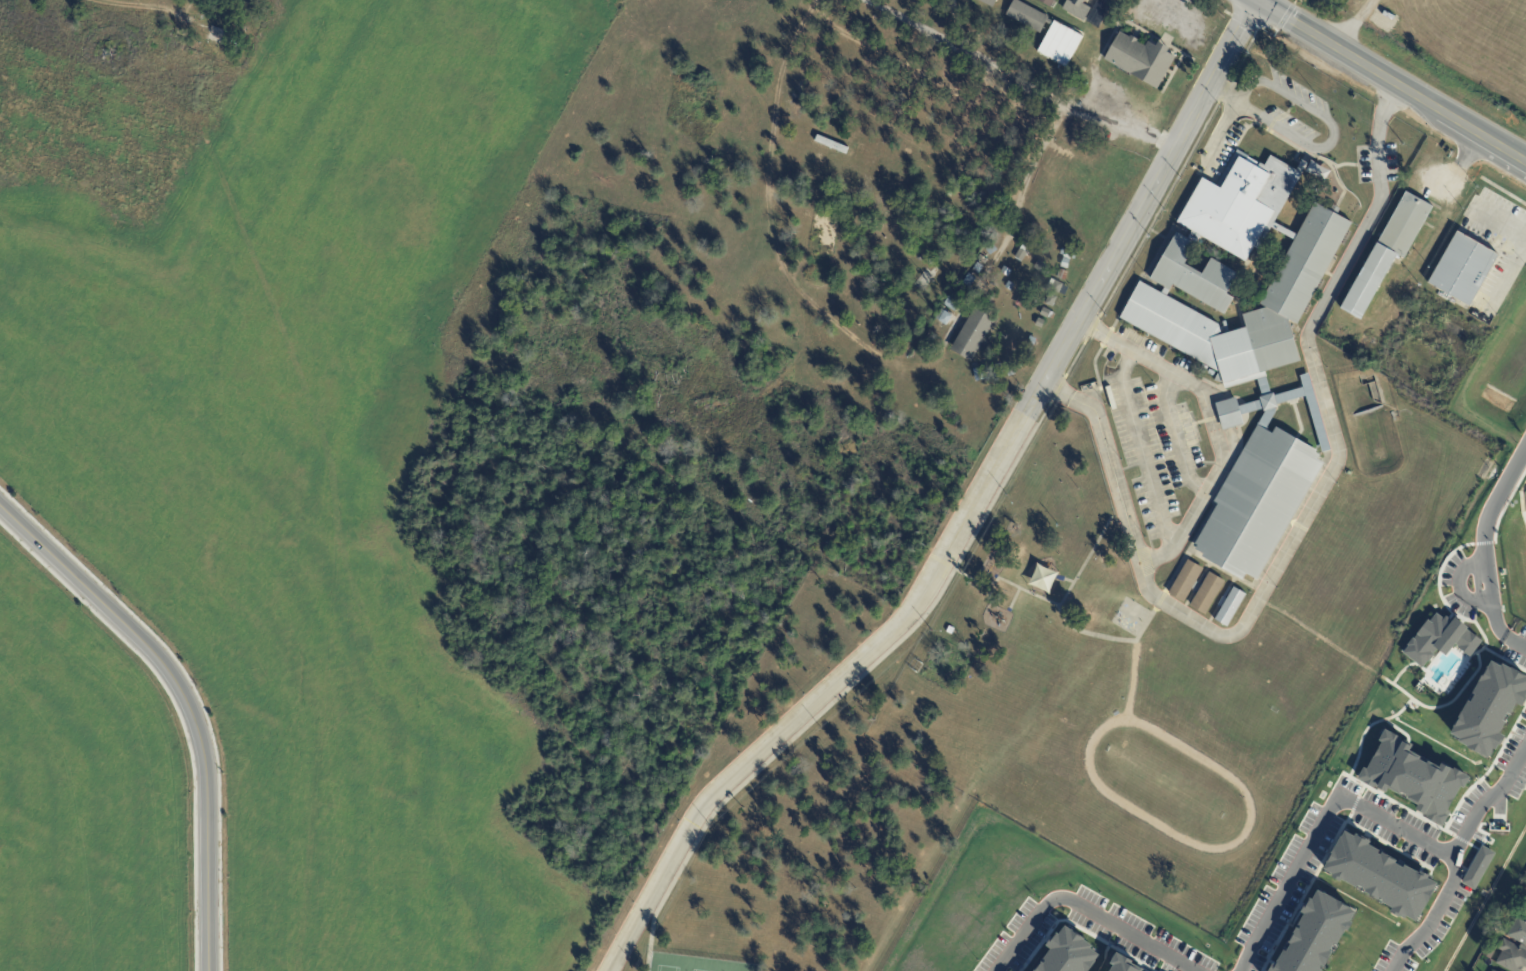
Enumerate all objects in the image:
road: (1169, 0)
building: (1046, 2)
building: (988, 3)
building: (1076, 9)
building: (1027, 17)
road: (1352, 23)
road: (961, 28)
crop: (1470, 40)
building: (1060, 44)
road: (1242, 56)
building: (1140, 60)
road: (1017, 79)
road: (1392, 81)
road: (1224, 88)
road: (1222, 94)
road: (1330, 128)
road: (1216, 137)
building: (830, 144)
road: (1341, 164)
building: (1316, 170)
road: (1141, 207)
road: (1159, 209)
road: (1497, 227)
building: (1066, 254)
building: (1387, 254)
building: (919, 258)
building: (1064, 264)
building: (1040, 265)
building: (1461, 268)
building: (1005, 273)
building: (1061, 275)
road: (1508, 279)
building: (1413, 285)
building: (1026, 287)
building: (1056, 287)
building: (1009, 288)
building: (1051, 302)
building: (1045, 313)
building: (1039, 323)
road: (1093, 328)
building: (973, 336)
building: (1031, 342)
building: (1247, 348)
building: (1027, 352)
road: (1075, 358)
building: (1350, 363)
road: (1057, 389)
road: (1333, 423)
road: (1179, 436)
road: (1143, 449)
parking lot: (1156, 449)
road: (1189, 521)
road: (1485, 542)
building: (1042, 579)
road: (1459, 584)
building: (1196, 587)
building: (1229, 606)
building: (950, 630)
building: (1438, 637)
road: (1517, 641)
road: (866, 670)
road: (820, 696)
road: (185, 702)
building: (1489, 706)
building: (1409, 774)
crop: (84, 791)
road: (1366, 810)
building: (1380, 875)
road: (1086, 908)
road: (1434, 918)
building: (1518, 931)
building: (1314, 934)
road: (650, 944)
building: (1066, 952)
building: (1511, 957)
park: (694, 964)
building: (1123, 964)
building: (1496, 970)

